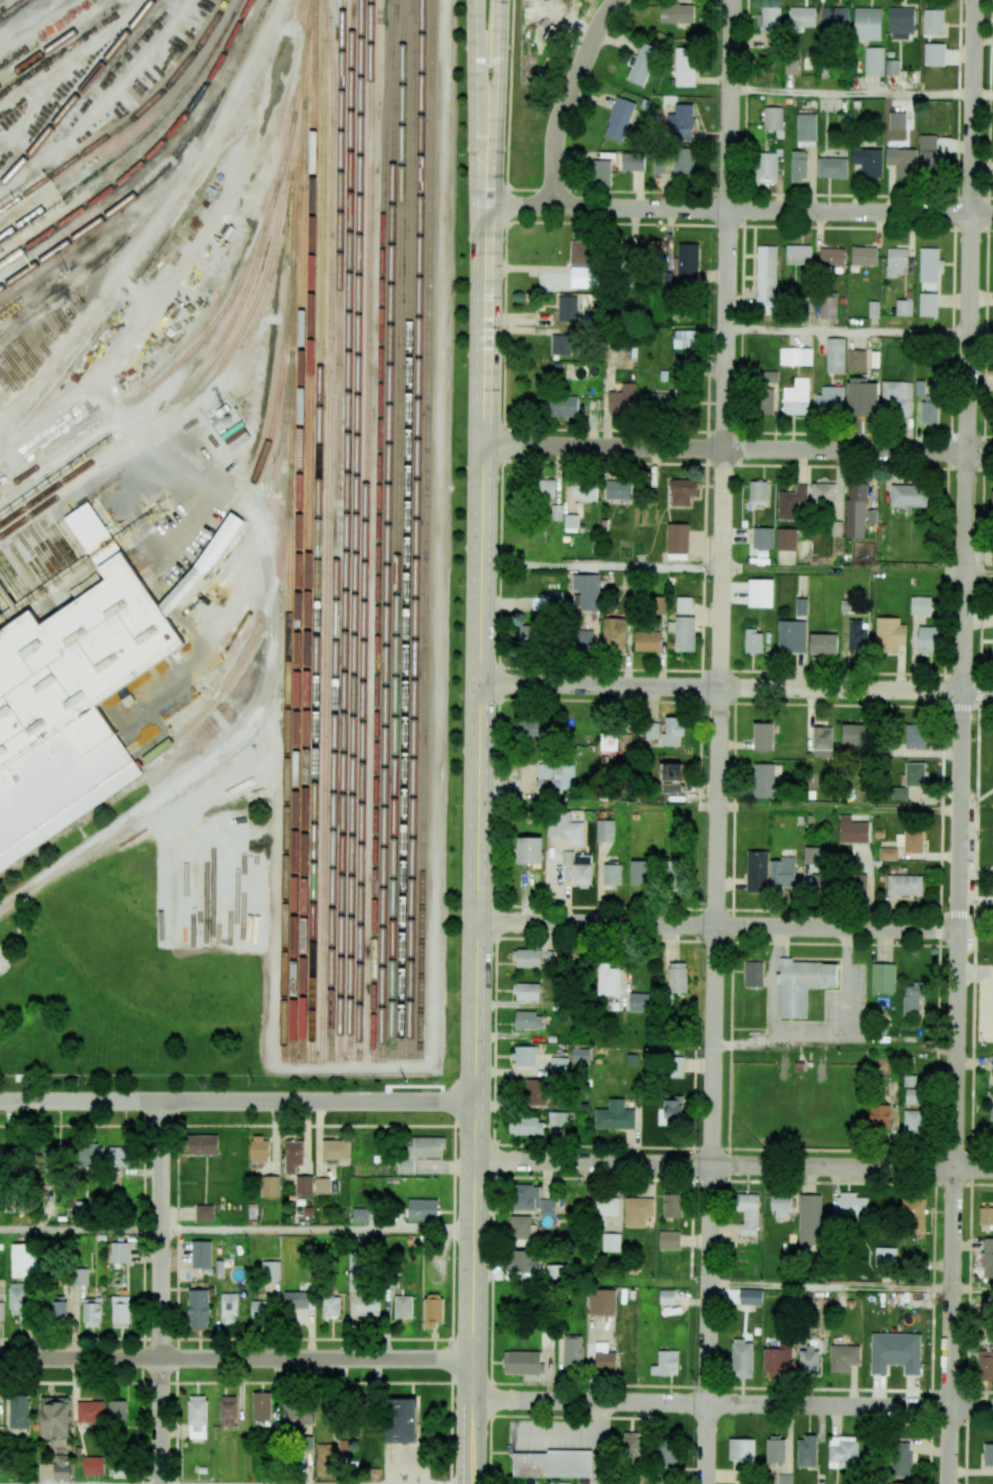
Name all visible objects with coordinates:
railway: (14, 9)
railway: (394, 12)
building: (676, 13)
building: (803, 17)
building: (836, 18)
building: (769, 19)
building: (933, 21)
railway: (308, 22)
building: (901, 23)
building: (867, 24)
railway: (59, 40)
railway: (246, 45)
building: (934, 54)
building: (874, 61)
road: (476, 62)
road: (491, 62)
building: (641, 63)
building: (684, 66)
building: (791, 66)
building: (892, 67)
railway: (303, 77)
railway: (297, 90)
road: (852, 93)
railway: (77, 94)
road: (983, 95)
road: (569, 97)
road: (743, 112)
building: (619, 117)
building: (773, 118)
building: (897, 120)
railway: (129, 121)
building: (679, 121)
railway: (138, 137)
building: (928, 152)
railway: (148, 153)
building: (681, 158)
building: (632, 161)
building: (901, 161)
building: (657, 162)
building: (868, 162)
building: (765, 167)
building: (798, 167)
building: (832, 167)
railway: (279, 170)
building: (601, 173)
railway: (293, 191)
road: (749, 193)
railway: (124, 202)
road: (738, 210)
railway: (145, 218)
road: (511, 222)
road: (752, 225)
building: (654, 248)
building: (581, 252)
building: (798, 254)
building: (831, 256)
building: (863, 256)
building: (898, 262)
building: (685, 264)
building: (929, 264)
building: (766, 279)
building: (928, 304)
building: (566, 307)
building: (828, 307)
building: (903, 308)
building: (873, 309)
railway: (290, 320)
railway: (15, 324)
railway: (14, 326)
road: (848, 330)
road: (981, 333)
building: (685, 340)
building: (560, 344)
building: (835, 355)
building: (795, 356)
building: (856, 360)
building: (683, 366)
railway: (165, 375)
building: (768, 376)
railway: (207, 378)
road: (707, 381)
building: (920, 388)
railway: (176, 397)
railway: (275, 397)
building: (796, 397)
building: (861, 397)
building: (896, 397)
building: (621, 400)
building: (652, 400)
building: (764, 400)
building: (830, 400)
building: (563, 406)
building: (929, 412)
road: (672, 430)
road: (988, 436)
road: (738, 449)
road: (740, 464)
road: (861, 466)
road: (988, 468)
building: (545, 488)
building: (618, 490)
building: (682, 492)
building: (757, 492)
building: (584, 493)
building: (822, 495)
building: (908, 495)
building: (991, 500)
railway: (264, 502)
building: (791, 502)
building: (855, 512)
building: (570, 521)
railway: (415, 527)
railway: (426, 527)
railway: (345, 528)
railway: (396, 528)
railway: (406, 528)
railway: (77, 529)
railway: (336, 529)
railway: (354, 529)
railway: (364, 529)
railway: (308, 530)
railway: (317, 530)
railway: (327, 530)
railway: (72, 532)
building: (99, 533)
railway: (66, 536)
building: (677, 537)
building: (763, 538)
railway: (61, 539)
building: (786, 539)
railway: (378, 540)
railway: (387, 540)
railway: (56, 543)
railway: (51, 546)
railway: (45, 550)
railway: (40, 554)
railway: (35, 557)
building: (992, 558)
railway: (29, 561)
building: (207, 563)
railway: (207, 565)
road: (602, 566)
railway: (19, 568)
road: (844, 570)
road: (979, 573)
railway: (15, 574)
railway: (33, 578)
railway: (12, 581)
railway: (298, 586)
building: (88, 588)
railway: (10, 589)
railway: (272, 590)
building: (585, 591)
building: (760, 593)
railway: (7, 597)
railway: (4, 605)
building: (656, 605)
building: (683, 605)
building: (920, 605)
building: (801, 606)
railway: (1, 611)
road: (481, 613)
road: (701, 619)
building: (613, 633)
building: (529, 634)
building: (685, 634)
building: (889, 634)
building: (791, 636)
building: (858, 636)
railway: (74, 638)
building: (584, 639)
building: (928, 639)
building: (753, 641)
building: (647, 642)
building: (823, 644)
building: (992, 650)
railway: (84, 668)
road: (720, 671)
road: (736, 688)
road: (738, 703)
building: (74, 705)
road: (986, 708)
road: (253, 720)
building: (530, 729)
building: (652, 731)
building: (673, 732)
building: (854, 733)
building: (763, 736)
building: (915, 736)
road: (497, 741)
building: (821, 741)
road: (942, 741)
road: (962, 741)
road: (978, 741)
building: (610, 742)
road: (720, 742)
building: (670, 771)
railway: (286, 772)
building: (915, 774)
building: (554, 778)
building: (764, 780)
building: (671, 788)
building: (899, 792)
road: (598, 806)
road: (839, 810)
railway: (68, 811)
building: (565, 827)
building: (605, 830)
building: (852, 830)
building: (910, 841)
building: (529, 850)
building: (888, 853)
building: (811, 857)
building: (567, 858)
building: (582, 870)
building: (756, 871)
building: (640, 872)
building: (782, 872)
building: (612, 874)
building: (857, 884)
building: (904, 885)
road: (735, 910)
road: (718, 927)
park: (166, 928)
road: (731, 941)
road: (734, 942)
building: (527, 958)
building: (753, 974)
building: (677, 977)
building: (882, 978)
building: (607, 979)
road: (844, 982)
road: (769, 983)
building: (801, 985)
building: (527, 991)
building: (911, 999)
building: (639, 1002)
building: (528, 1020)
road: (779, 1039)
building: (579, 1055)
building: (524, 1056)
building: (991, 1062)
building: (558, 1066)
building: (676, 1067)
building: (531, 1087)
building: (912, 1096)
road: (80, 1101)
road: (318, 1102)
building: (674, 1110)
building: (614, 1116)
building: (879, 1116)
building: (991, 1120)
building: (913, 1121)
road: (424, 1124)
building: (527, 1125)
building: (200, 1144)
road: (743, 1148)
building: (260, 1149)
building: (335, 1149)
building: (420, 1151)
building: (88, 1155)
building: (293, 1155)
building: (120, 1156)
building: (50, 1157)
building: (0, 1158)
road: (693, 1162)
road: (733, 1166)
road: (743, 1180)
building: (304, 1185)
building: (322, 1185)
building: (269, 1186)
building: (531, 1200)
building: (672, 1205)
building: (780, 1205)
building: (851, 1205)
building: (604, 1206)
building: (422, 1209)
building: (637, 1211)
building: (205, 1213)
building: (748, 1213)
building: (913, 1214)
building: (360, 1215)
building: (986, 1217)
building: (809, 1221)
building: (520, 1227)
road: (80, 1230)
road: (318, 1230)
building: (669, 1240)
building: (611, 1242)
building: (119, 1252)
building: (201, 1254)
building: (884, 1258)
building: (987, 1258)
building: (24, 1261)
building: (520, 1261)
building: (270, 1269)
building: (555, 1271)
building: (354, 1272)
building: (81, 1277)
road: (831, 1286)
road: (972, 1289)
road: (474, 1292)
road: (161, 1293)
building: (18, 1297)
building: (666, 1297)
building: (750, 1297)
building: (297, 1299)
building: (601, 1302)
building: (367, 1305)
building: (58, 1306)
building: (330, 1307)
building: (403, 1307)
building: (198, 1308)
building: (229, 1308)
building: (257, 1309)
building: (1, 1310)
building: (433, 1310)
building: (120, 1311)
building: (91, 1312)
building: (572, 1351)
building: (895, 1352)
building: (604, 1357)
building: (843, 1357)
road: (236, 1358)
building: (778, 1358)
building: (741, 1359)
building: (808, 1359)
building: (521, 1362)
building: (666, 1363)
building: (985, 1366)
road: (728, 1387)
building: (262, 1404)
road: (733, 1404)
building: (365, 1405)
building: (91, 1410)
building: (117, 1410)
building: (19, 1411)
building: (228, 1411)
building: (298, 1415)
road: (563, 1416)
building: (54, 1417)
building: (197, 1417)
building: (401, 1420)
road: (450, 1421)
road: (979, 1425)
building: (631, 1443)
building: (344, 1447)
building: (775, 1449)
building: (741, 1450)
building: (806, 1451)
building: (842, 1452)
building: (666, 1453)
building: (988, 1454)
building: (326, 1459)
building: (901, 1459)
building: (1, 1460)
building: (93, 1464)
building: (552, 1464)
building: (62, 1467)
building: (203, 1468)
building: (120, 1469)
building: (785, 1479)
building: (900, 1483)

